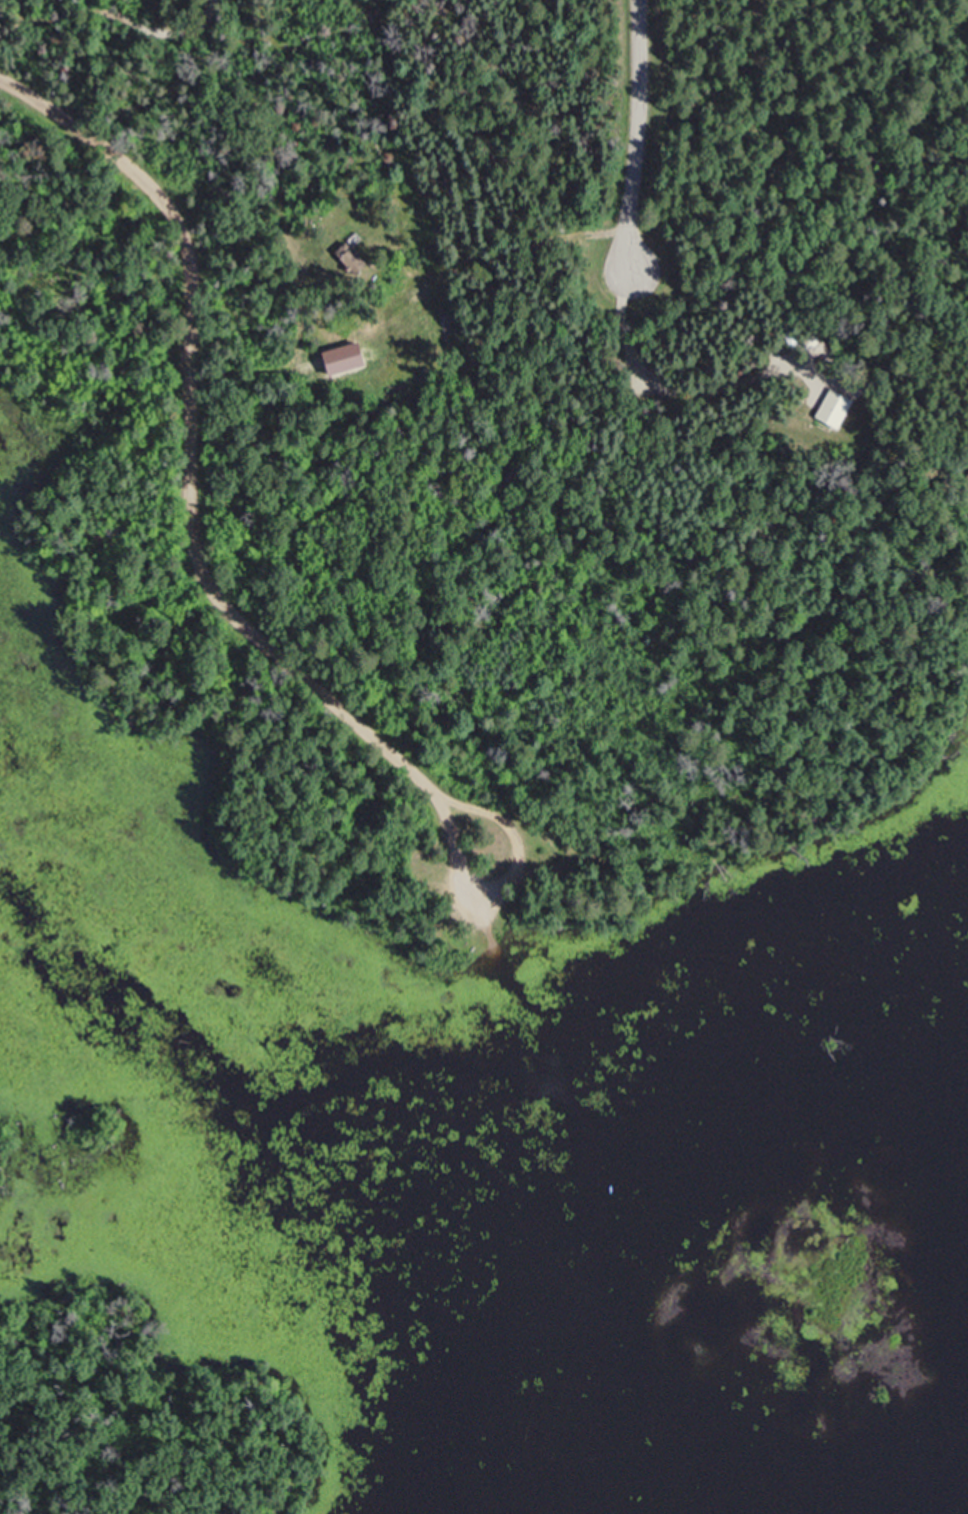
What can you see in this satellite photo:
road: (635, 133)
building: (354, 261)
road: (188, 444)
road: (513, 870)

